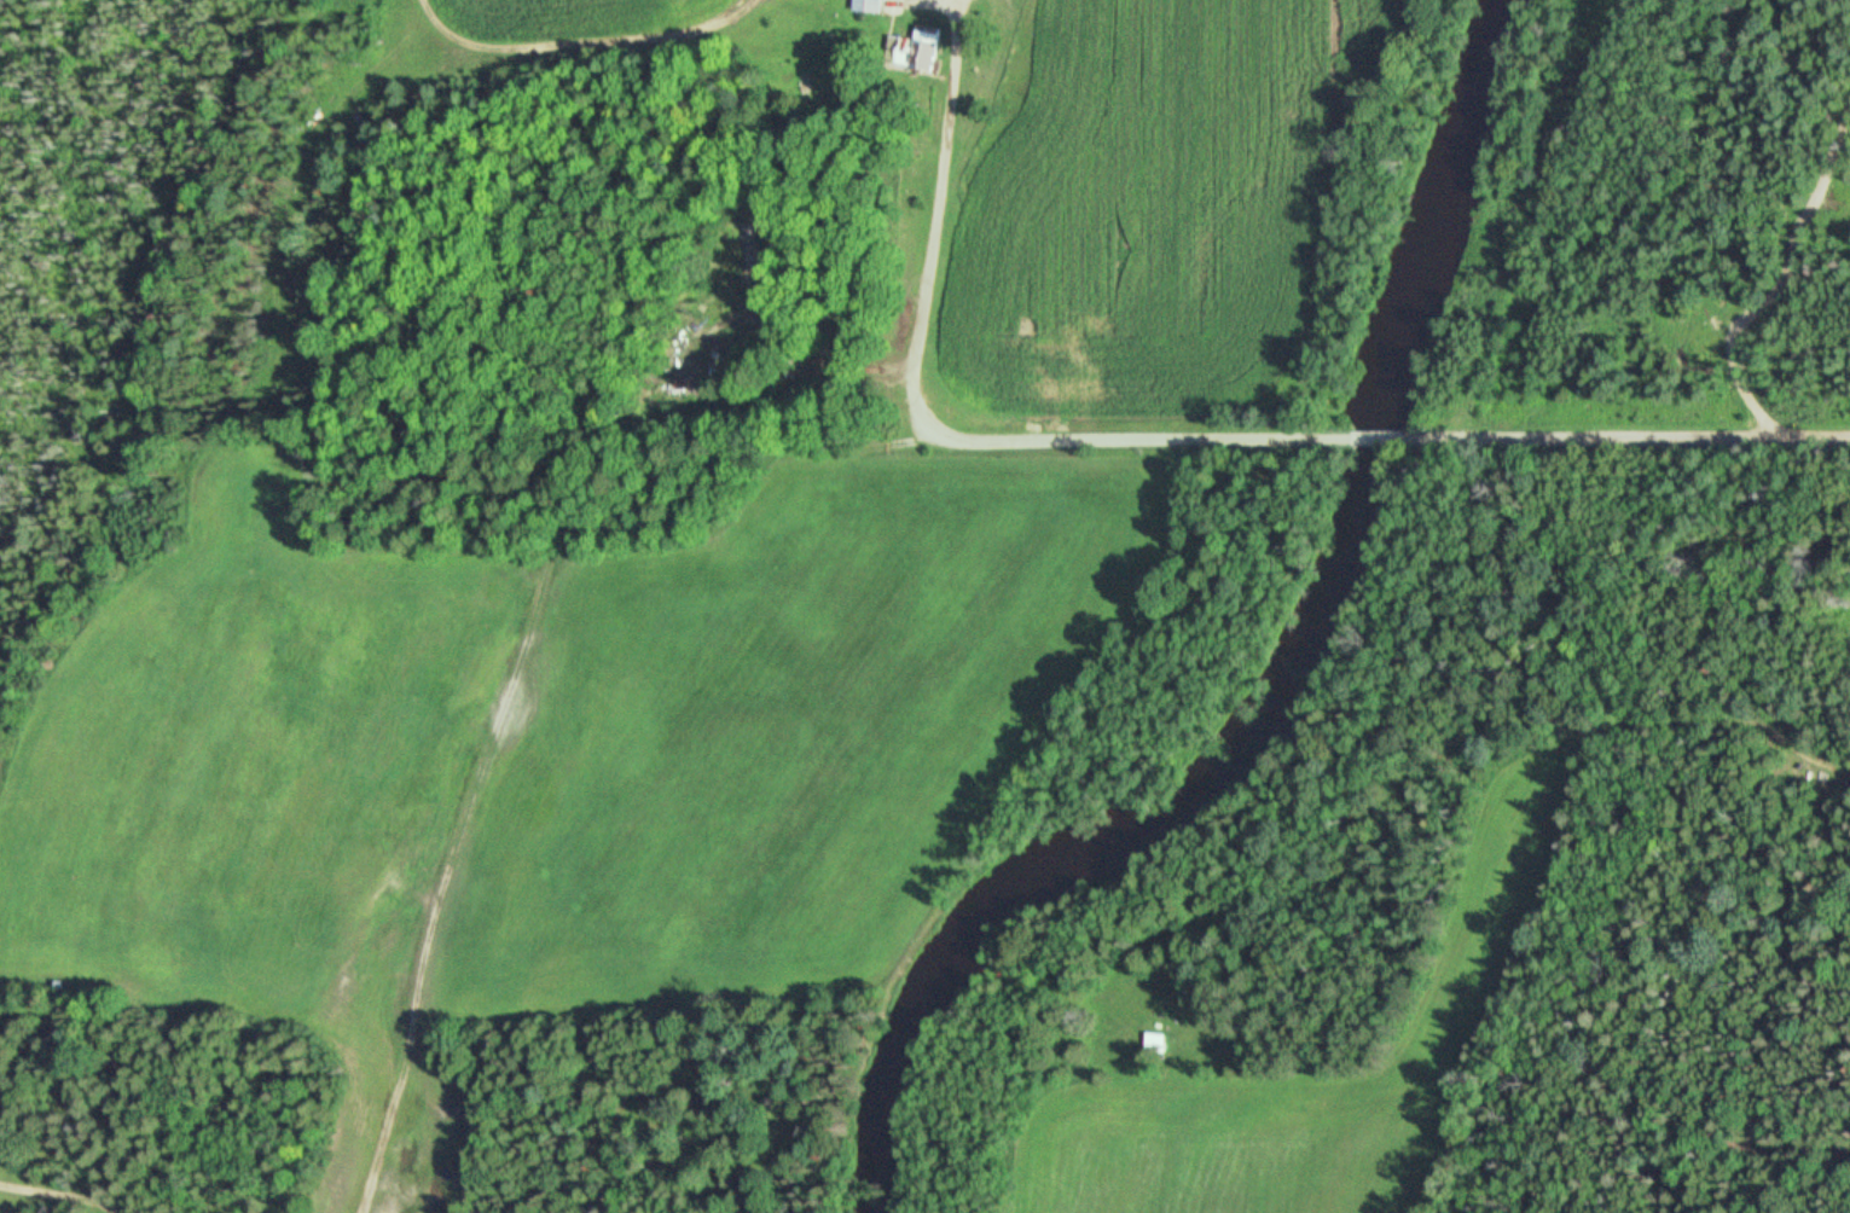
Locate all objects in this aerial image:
building: (915, 51)
road: (1779, 275)
road: (1635, 437)
road: (1381, 439)
road: (974, 442)
road: (547, 610)
river: (1301, 674)
road: (44, 1194)

